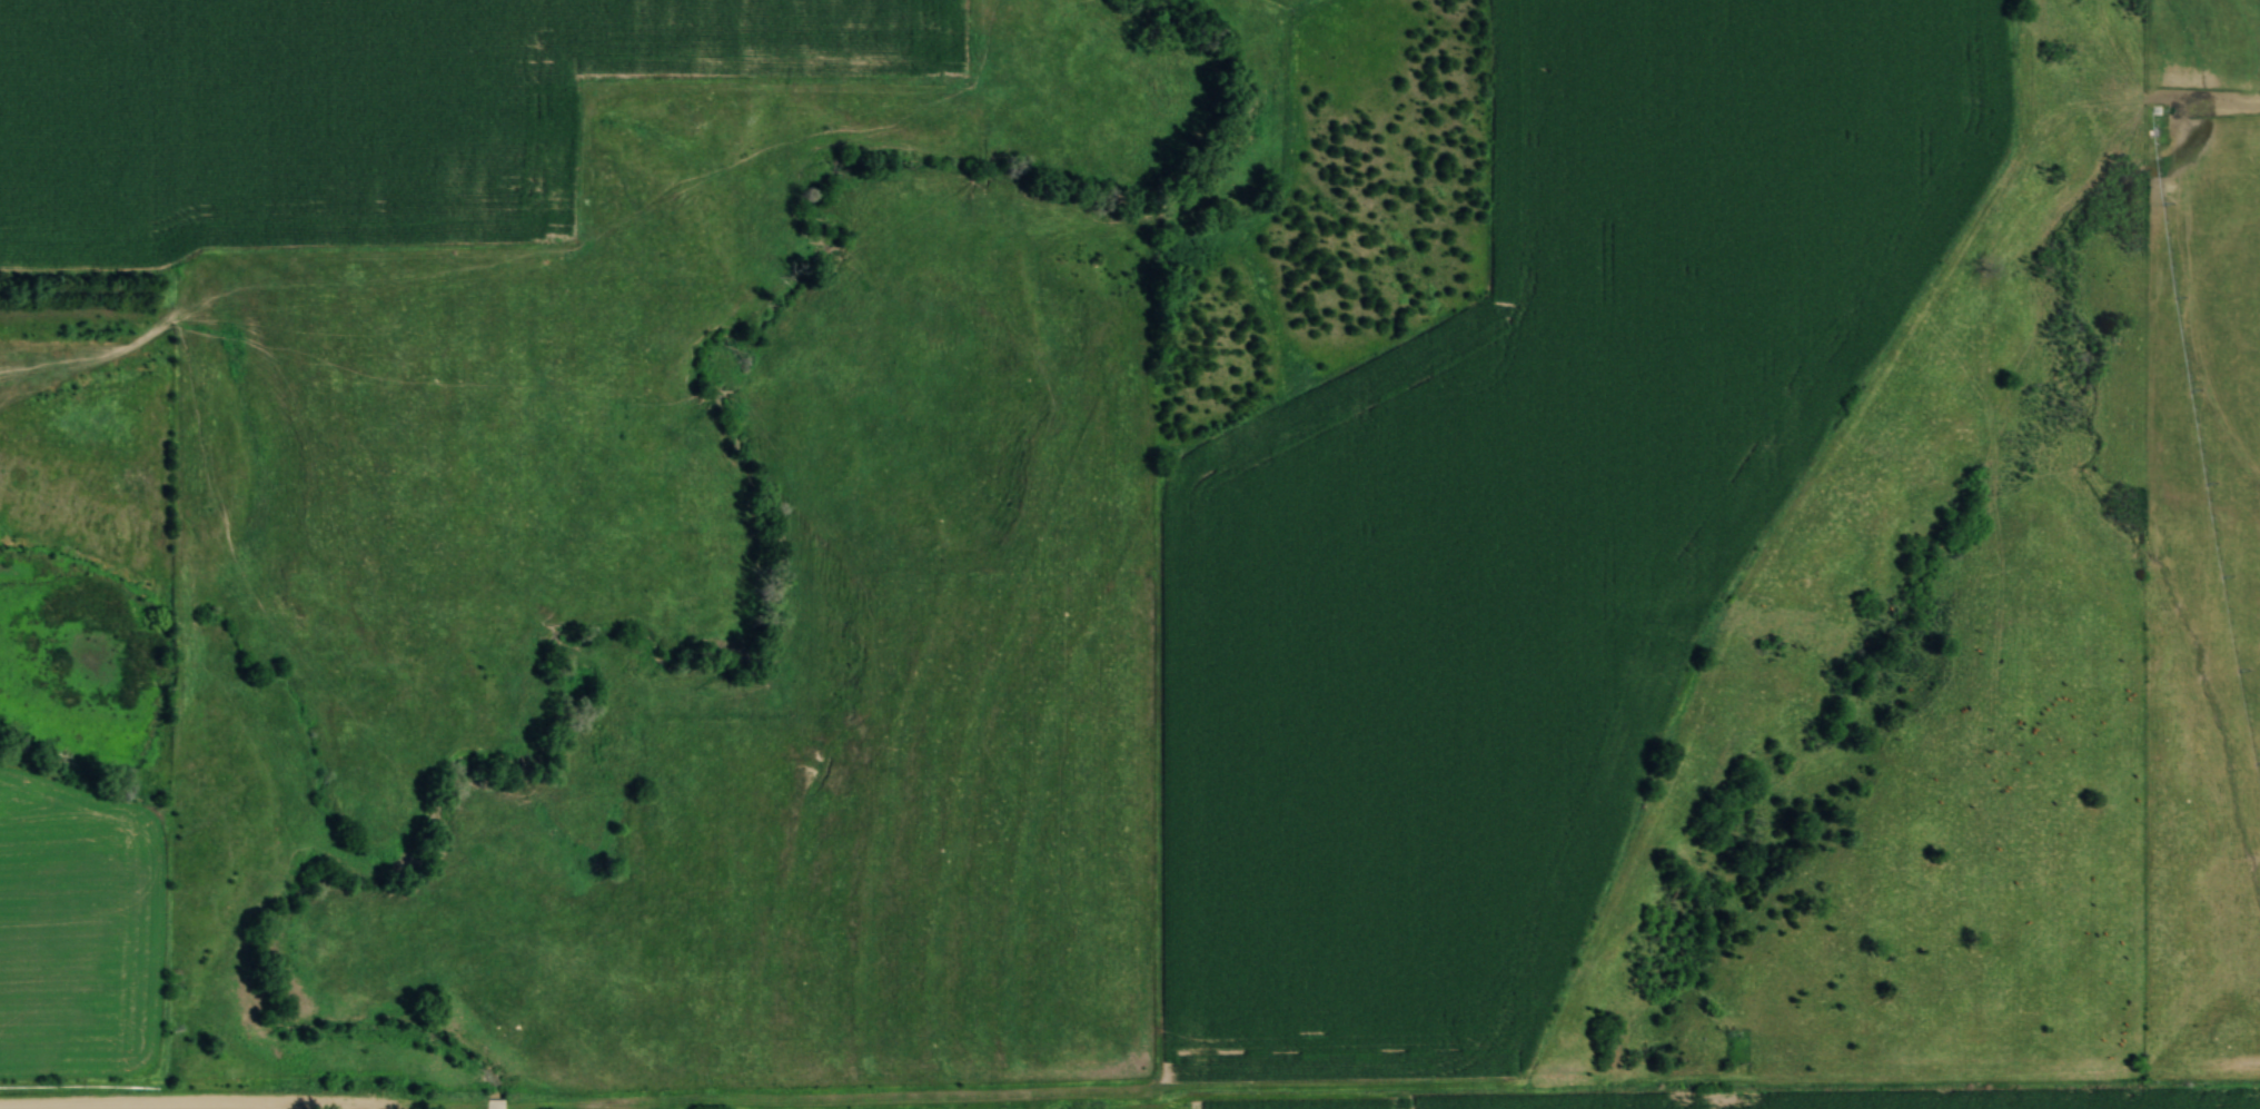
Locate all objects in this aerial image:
road: (774, 1095)
road: (275, 1108)

